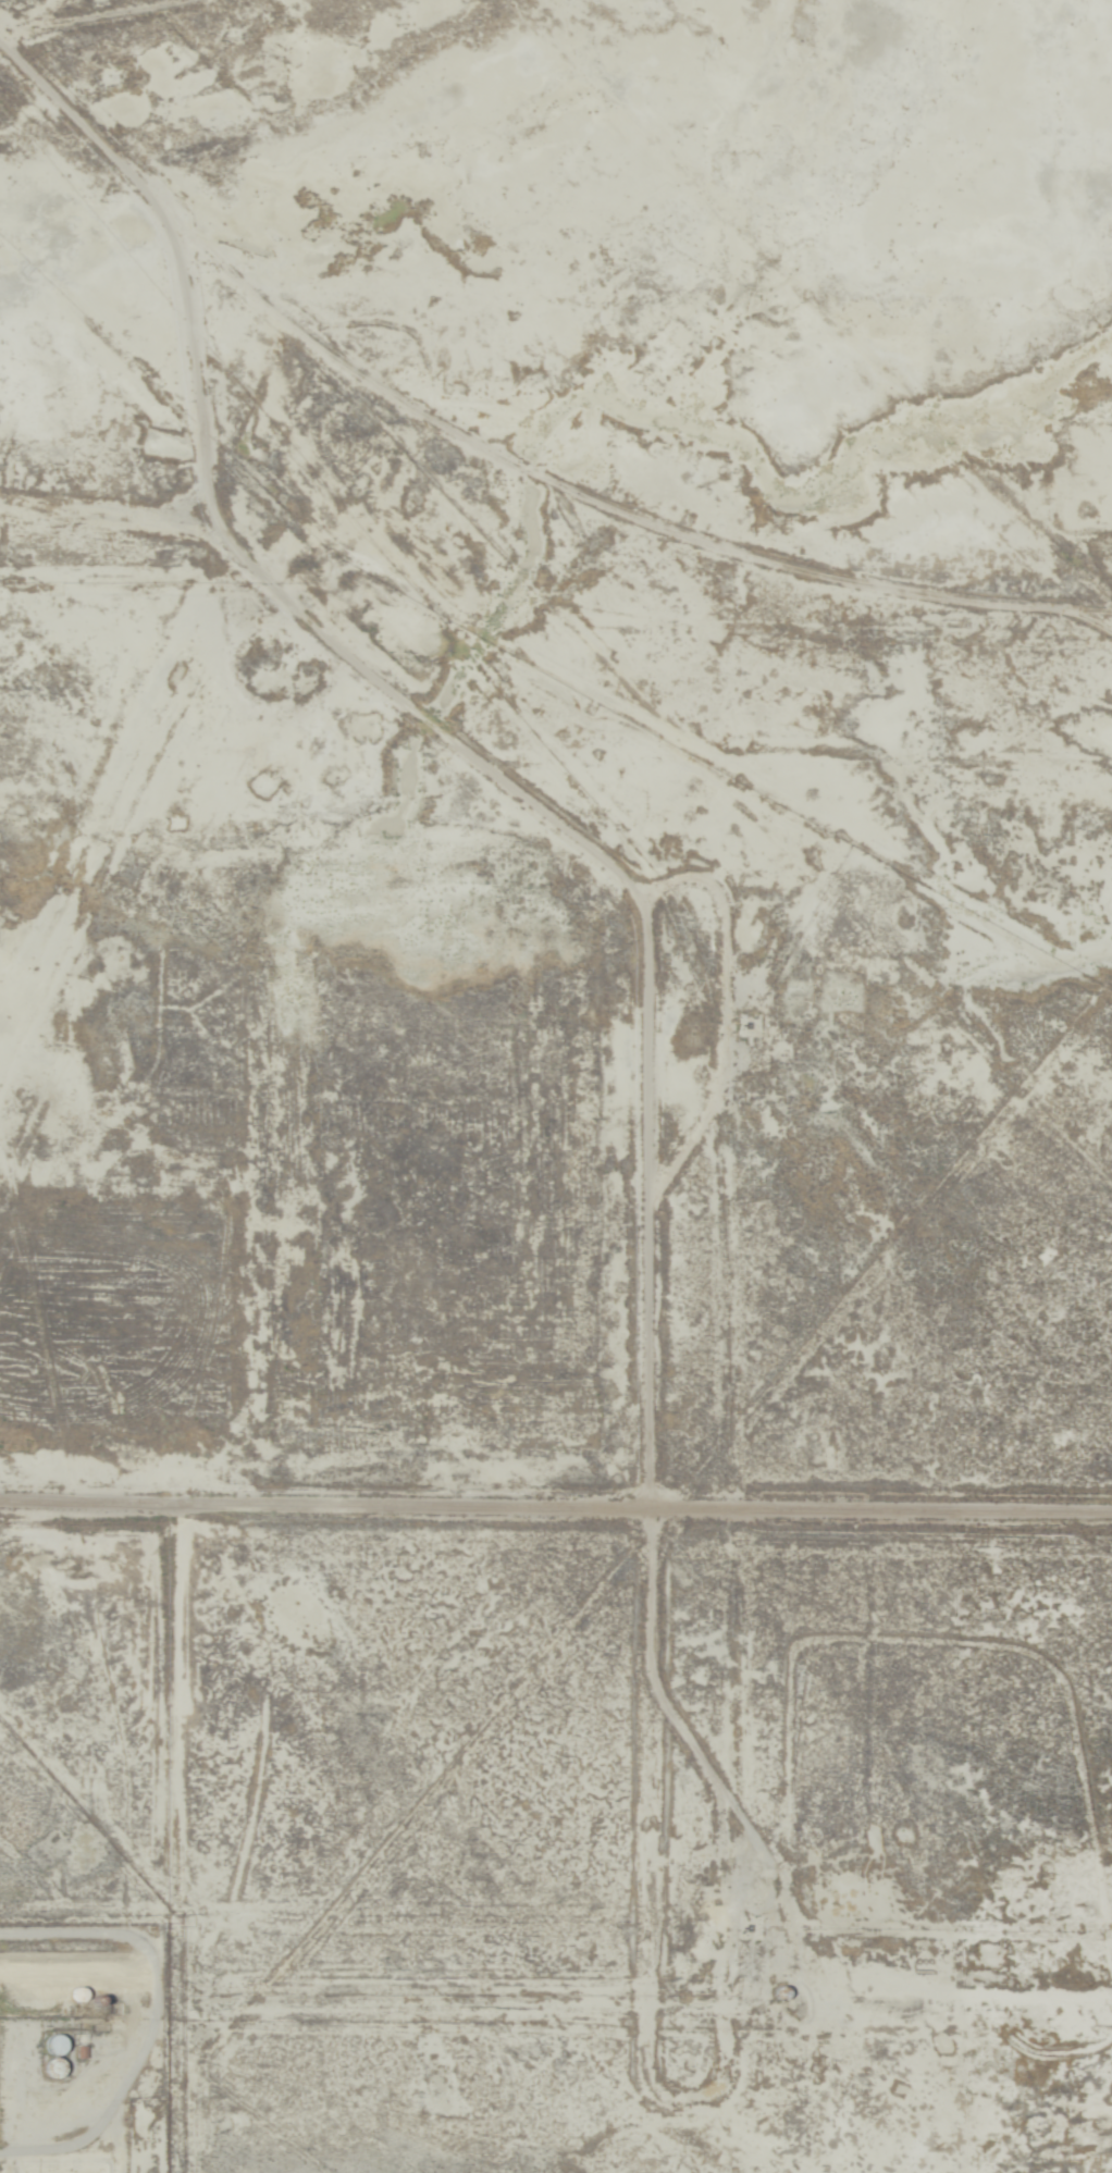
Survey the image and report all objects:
road: (87, 84)
road: (650, 529)
road: (706, 856)
road: (555, 1531)

